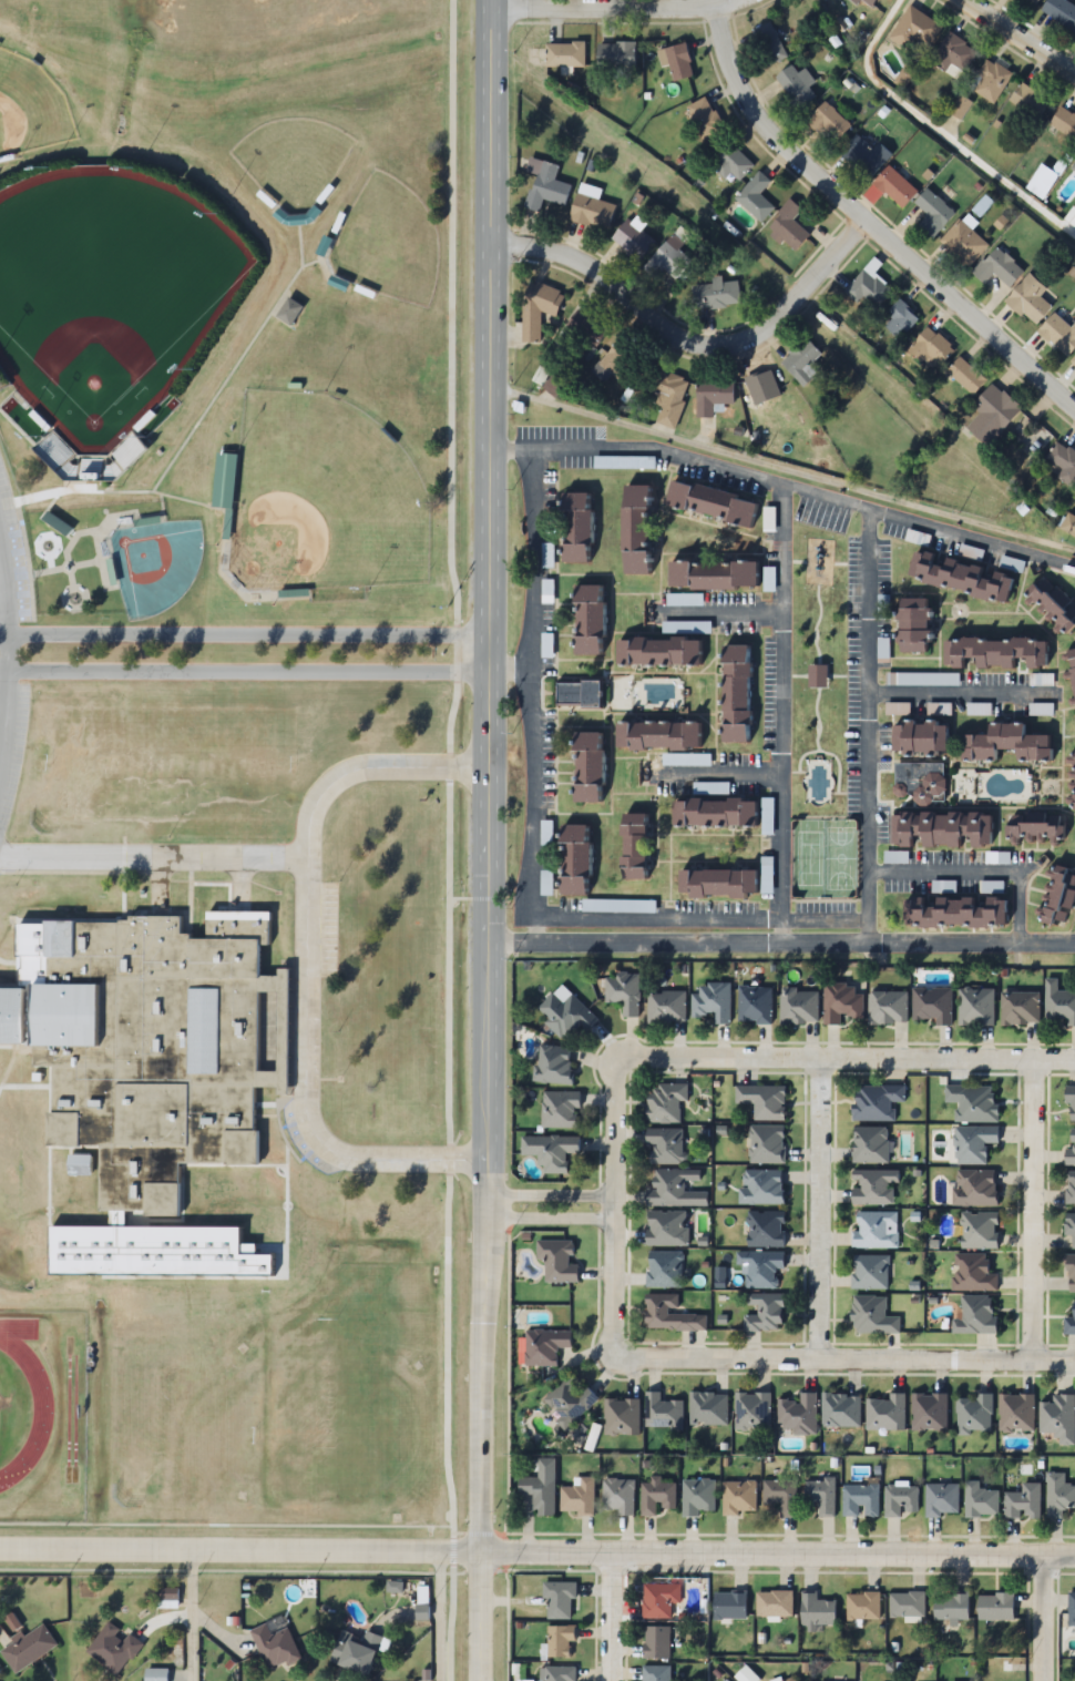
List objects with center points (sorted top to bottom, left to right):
building: (857, 1)
road: (597, 2)
building: (1031, 2)
building: (1061, 12)
building: (914, 31)
road: (1021, 38)
building: (769, 43)
building: (564, 55)
building: (953, 55)
building: (615, 57)
building: (677, 61)
building: (990, 80)
building: (797, 88)
building: (1028, 101)
park: (30, 109)
building: (704, 120)
building: (1064, 122)
building: (828, 123)
road: (935, 131)
building: (864, 156)
park: (291, 160)
building: (733, 162)
building: (1073, 166)
building: (545, 185)
building: (894, 187)
building: (755, 197)
building: (591, 208)
building: (932, 214)
building: (788, 226)
road: (854, 231)
building: (633, 238)
park: (388, 243)
building: (963, 244)
building: (669, 259)
building: (997, 268)
building: (340, 282)
building: (870, 291)
park: (107, 295)
building: (716, 295)
building: (1028, 300)
building: (539, 309)
building: (290, 310)
building: (901, 319)
building: (582, 330)
building: (1059, 334)
road: (683, 349)
building: (936, 349)
building: (613, 360)
building: (1073, 361)
building: (803, 363)
building: (965, 376)
building: (554, 386)
building: (761, 388)
building: (713, 396)
building: (668, 398)
building: (992, 416)
building: (57, 450)
building: (1063, 465)
road: (782, 469)
building: (226, 481)
road: (786, 487)
park: (322, 499)
building: (709, 503)
parking lot: (823, 517)
building: (768, 520)
building: (574, 527)
building: (633, 530)
parking lot: (10, 566)
park: (154, 566)
building: (710, 574)
building: (959, 578)
road: (3, 592)
building: (1051, 605)
road: (723, 613)
building: (587, 620)
building: (911, 625)
road: (244, 631)
road: (7, 649)
building: (655, 652)
building: (994, 653)
road: (245, 668)
road: (509, 671)
building: (1071, 672)
building: (735, 694)
road: (530, 696)
road: (956, 696)
road: (3, 701)
road: (781, 715)
park: (820, 721)
road: (869, 727)
building: (655, 736)
parking lot: (11, 738)
building: (918, 740)
building: (1005, 745)
building: (586, 768)
road: (715, 778)
road: (489, 780)
building: (1072, 782)
building: (919, 783)
building: (713, 813)
building: (1033, 828)
building: (940, 829)
building: (632, 846)
road: (152, 852)
park: (810, 859)
building: (573, 860)
park: (840, 860)
road: (981, 872)
building: (715, 884)
building: (1056, 896)
building: (617, 907)
parking lot: (755, 908)
building: (953, 913)
road: (700, 920)
road: (781, 945)
road: (301, 960)
building: (623, 992)
building: (711, 1002)
building: (840, 1003)
building: (754, 1005)
building: (1057, 1005)
building: (930, 1006)
building: (666, 1007)
building: (798, 1007)
building: (975, 1007)
building: (887, 1009)
building: (1020, 1009)
building: (565, 1016)
building: (151, 1049)
building: (553, 1066)
building: (761, 1101)
building: (876, 1102)
building: (972, 1103)
building: (665, 1104)
building: (1071, 1104)
building: (559, 1110)
building: (973, 1143)
building: (766, 1144)
building: (870, 1145)
building: (665, 1147)
building: (1069, 1149)
building: (549, 1151)
building: (873, 1186)
building: (760, 1188)
building: (975, 1188)
building: (674, 1189)
building: (1069, 1189)
road: (817, 1208)
road: (1030, 1209)
road: (611, 1210)
road: (550, 1221)
building: (1069, 1227)
building: (666, 1229)
building: (765, 1230)
building: (874, 1230)
building: (979, 1231)
building: (556, 1262)
building: (664, 1270)
building: (762, 1271)
building: (869, 1273)
building: (972, 1273)
building: (1069, 1273)
building: (764, 1313)
building: (669, 1315)
building: (871, 1316)
building: (975, 1316)
building: (1069, 1322)
building: (543, 1346)
building: (569, 1399)
track: (20, 1400)
building: (708, 1408)
building: (662, 1410)
building: (752, 1410)
building: (840, 1410)
building: (929, 1412)
building: (884, 1413)
building: (797, 1414)
building: (1015, 1414)
building: (973, 1415)
building: (621, 1416)
building: (1057, 1418)
building: (541, 1487)
building: (780, 1495)
building: (820, 1495)
building: (1057, 1495)
building: (617, 1496)
building: (656, 1496)
building: (697, 1496)
building: (577, 1497)
building: (738, 1497)
building: (860, 1499)
building: (941, 1499)
building: (899, 1500)
building: (980, 1500)
building: (1022, 1502)
road: (238, 1552)
road: (776, 1565)
building: (167, 1595)
building: (560, 1599)
building: (661, 1599)
building: (774, 1603)
building: (730, 1604)
building: (905, 1604)
building: (862, 1606)
building: (951, 1607)
building: (995, 1607)
building: (1071, 1610)
building: (815, 1611)
road: (193, 1616)
road: (478, 1620)
road: (607, 1621)
road: (1041, 1624)
building: (657, 1641)
building: (562, 1643)
building: (275, 1646)
building: (28, 1648)
building: (114, 1648)
building: (358, 1651)
building: (557, 1673)
building: (657, 1673)
building: (155, 1674)
building: (791, 1680)

